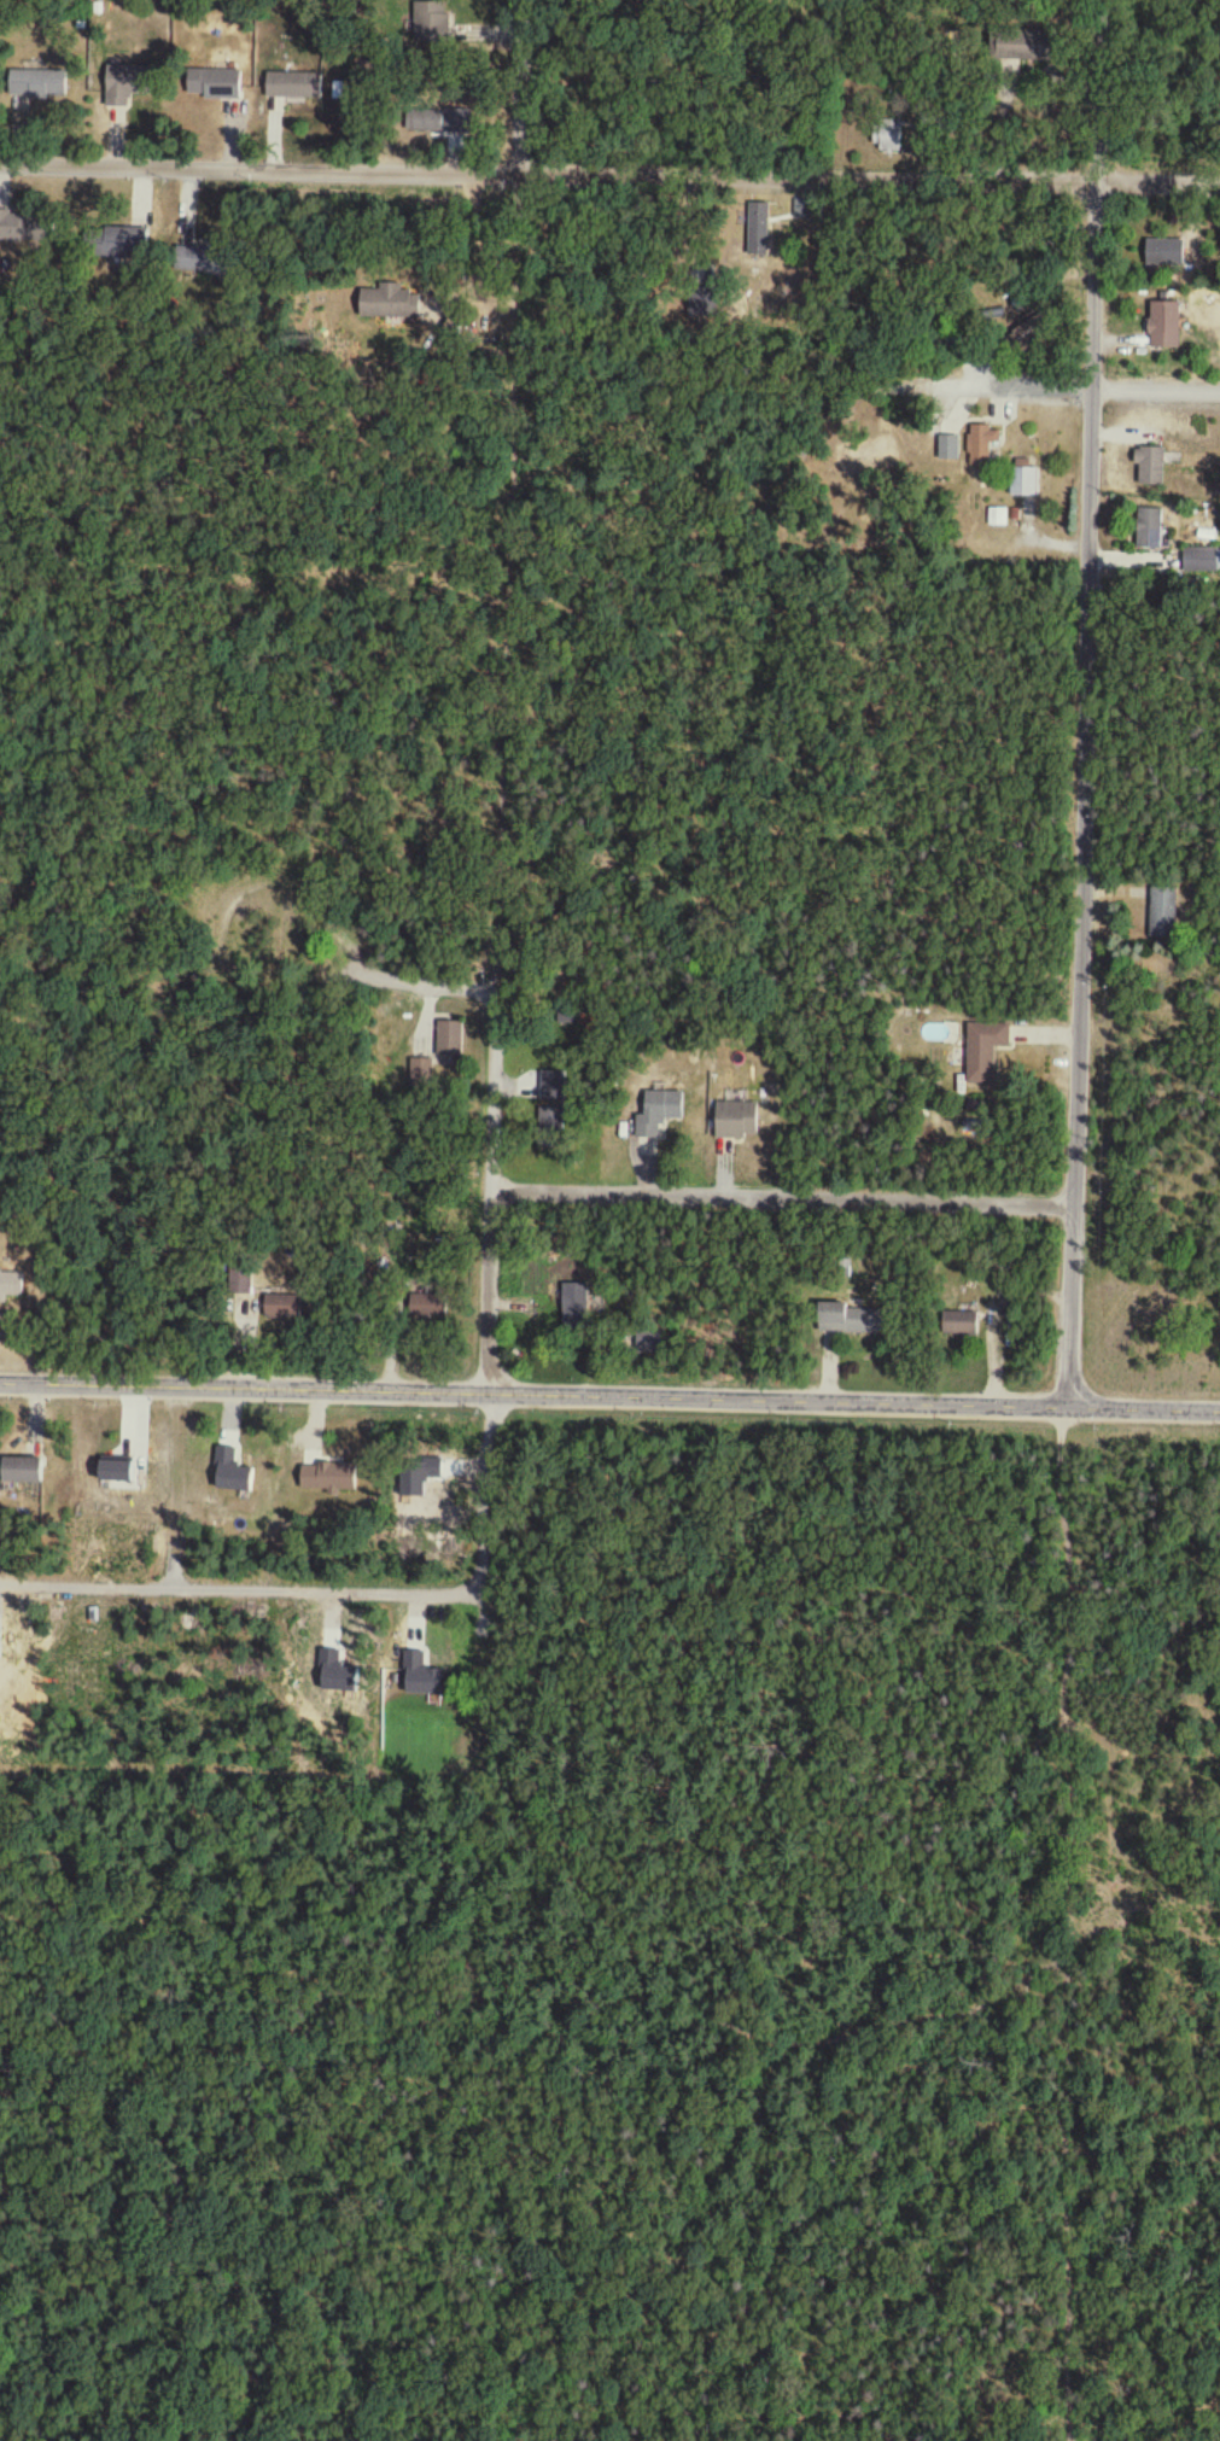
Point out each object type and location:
building: (431, 24)
building: (1018, 47)
road: (1004, 80)
building: (37, 86)
building: (124, 86)
building: (214, 87)
building: (293, 88)
road: (531, 88)
building: (438, 122)
building: (888, 138)
road: (609, 176)
building: (17, 228)
building: (758, 228)
building: (116, 241)
building: (1163, 253)
building: (191, 259)
building: (389, 303)
building: (1163, 326)
road: (1105, 393)
building: (982, 444)
building: (1149, 468)
building: (1022, 484)
building: (1149, 530)
building: (1201, 561)
road: (1081, 859)
road: (309, 893)
building: (1163, 910)
building: (449, 1039)
building: (983, 1052)
building: (658, 1114)
building: (550, 1122)
building: (736, 1122)
road: (787, 1204)
building: (239, 1281)
building: (11, 1289)
road: (497, 1292)
building: (574, 1302)
building: (281, 1308)
building: (427, 1309)
building: (848, 1320)
building: (959, 1326)
road: (609, 1398)
building: (22, 1473)
road: (240, 1594)

